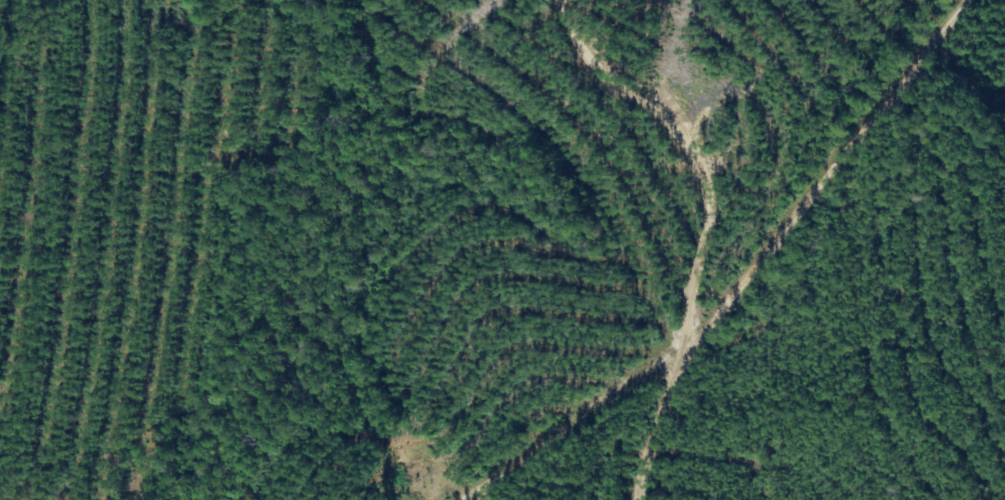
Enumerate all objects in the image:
road: (748, 244)

